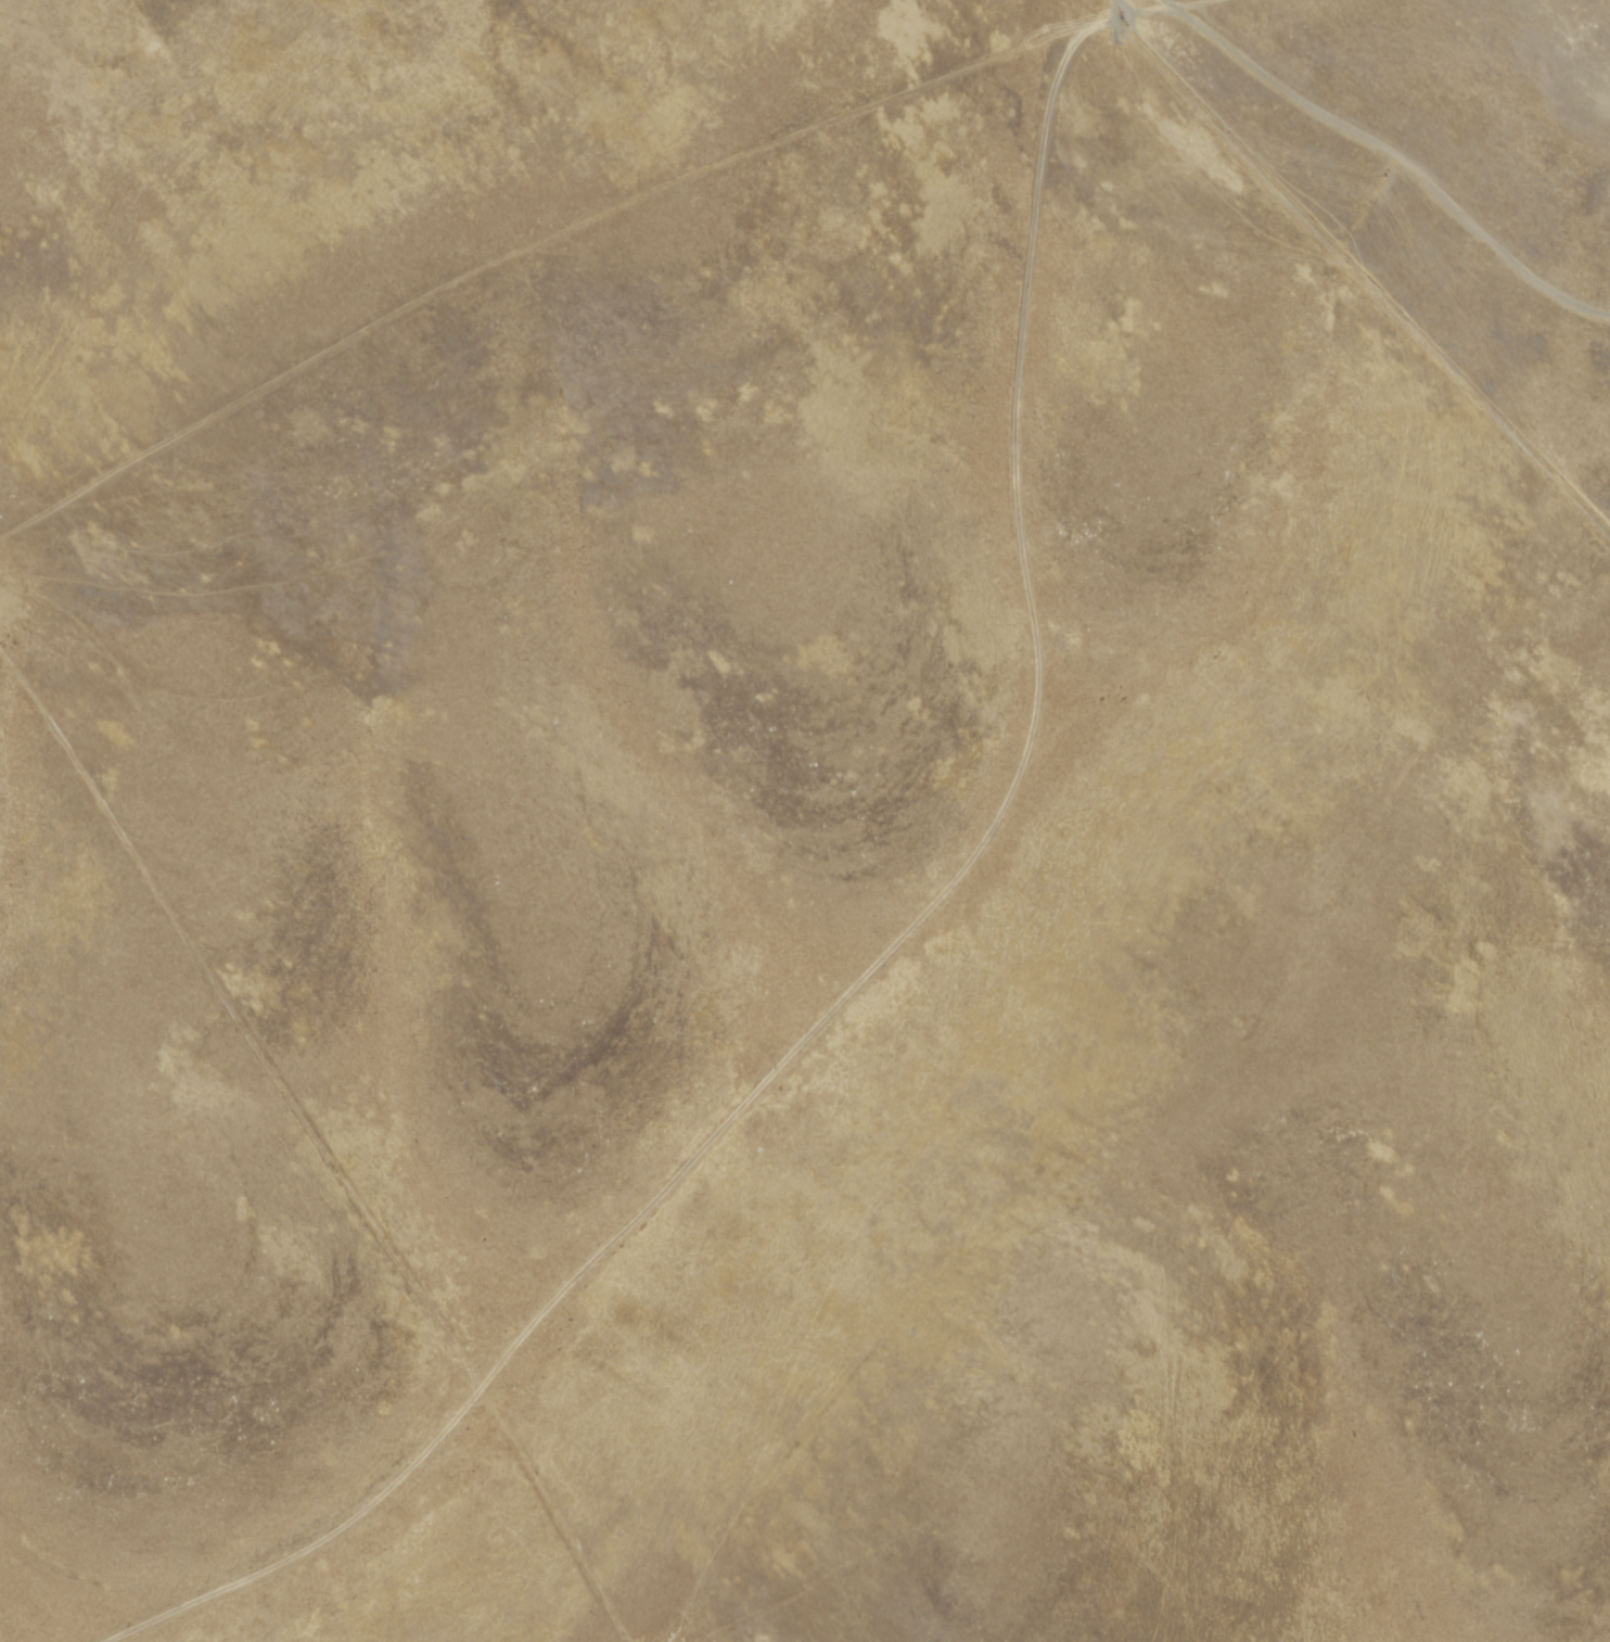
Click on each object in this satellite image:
road: (1389, 157)

